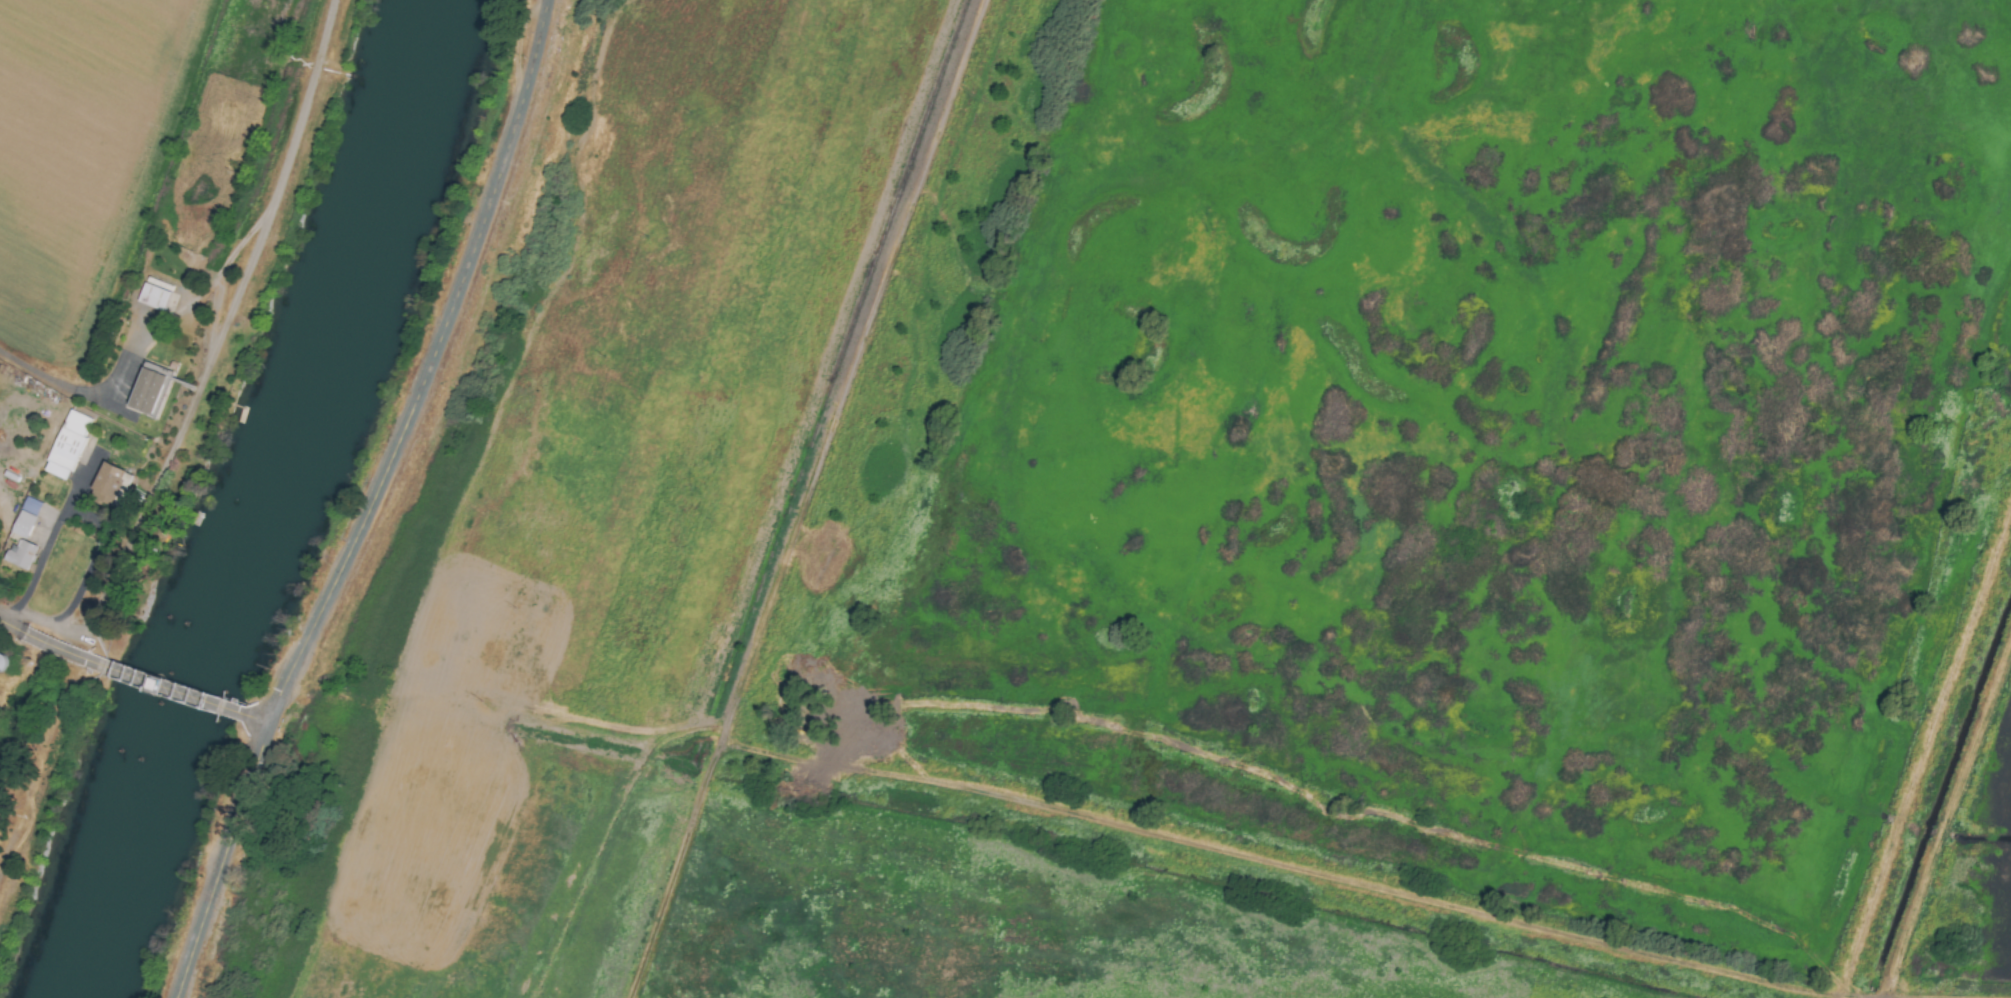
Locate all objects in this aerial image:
crop: (88, 159)
building: (154, 294)
road: (208, 360)
road: (427, 369)
road: (38, 372)
building: (147, 391)
building: (67, 445)
road: (82, 481)
crop: (575, 510)
road: (76, 512)
building: (25, 518)
building: (20, 556)
road: (49, 647)
road: (171, 691)
road: (256, 720)
crop: (16, 814)
road: (222, 861)
crop: (1928, 996)

